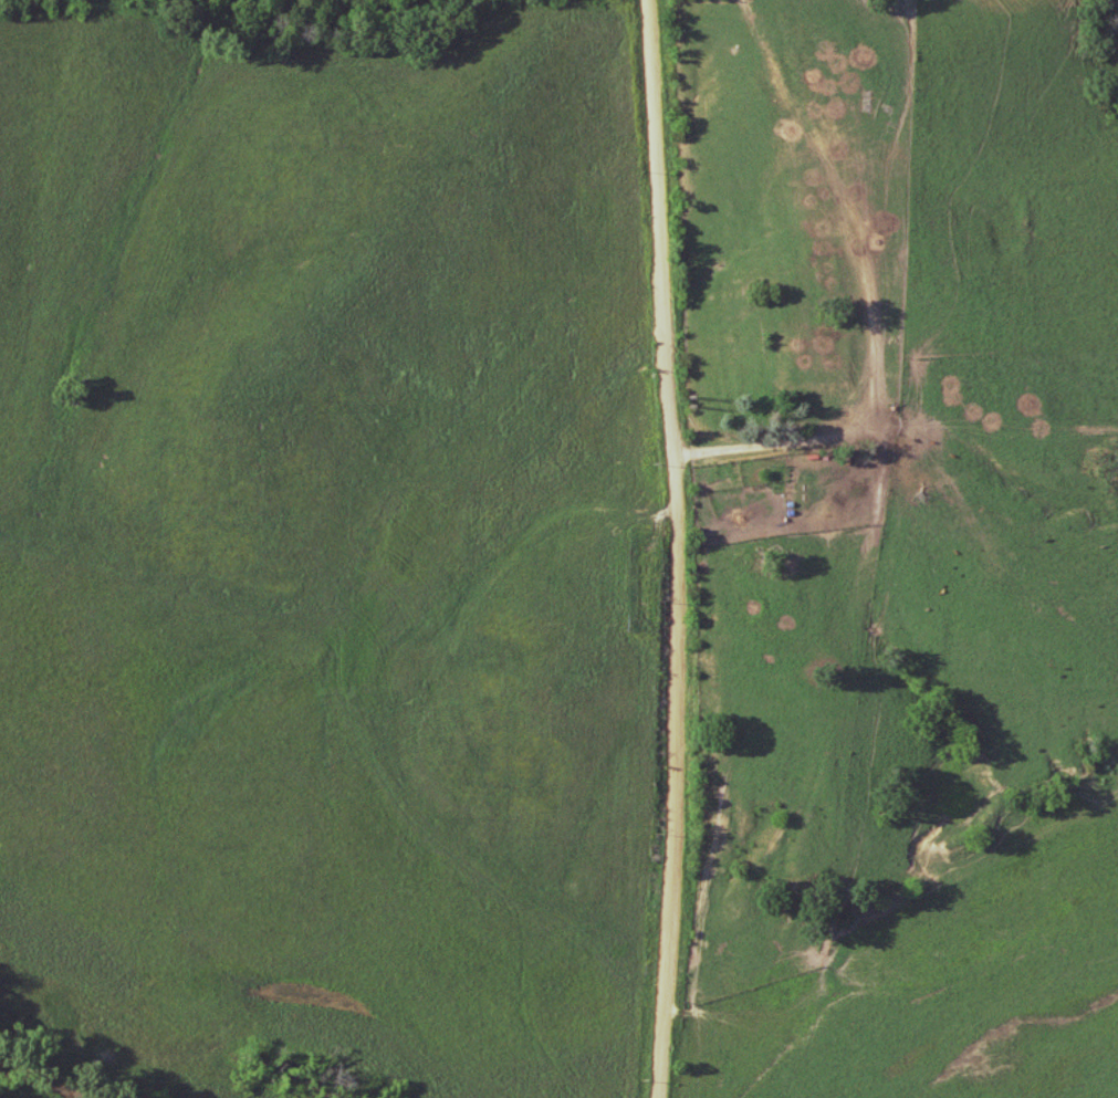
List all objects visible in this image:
road: (676, 548)

